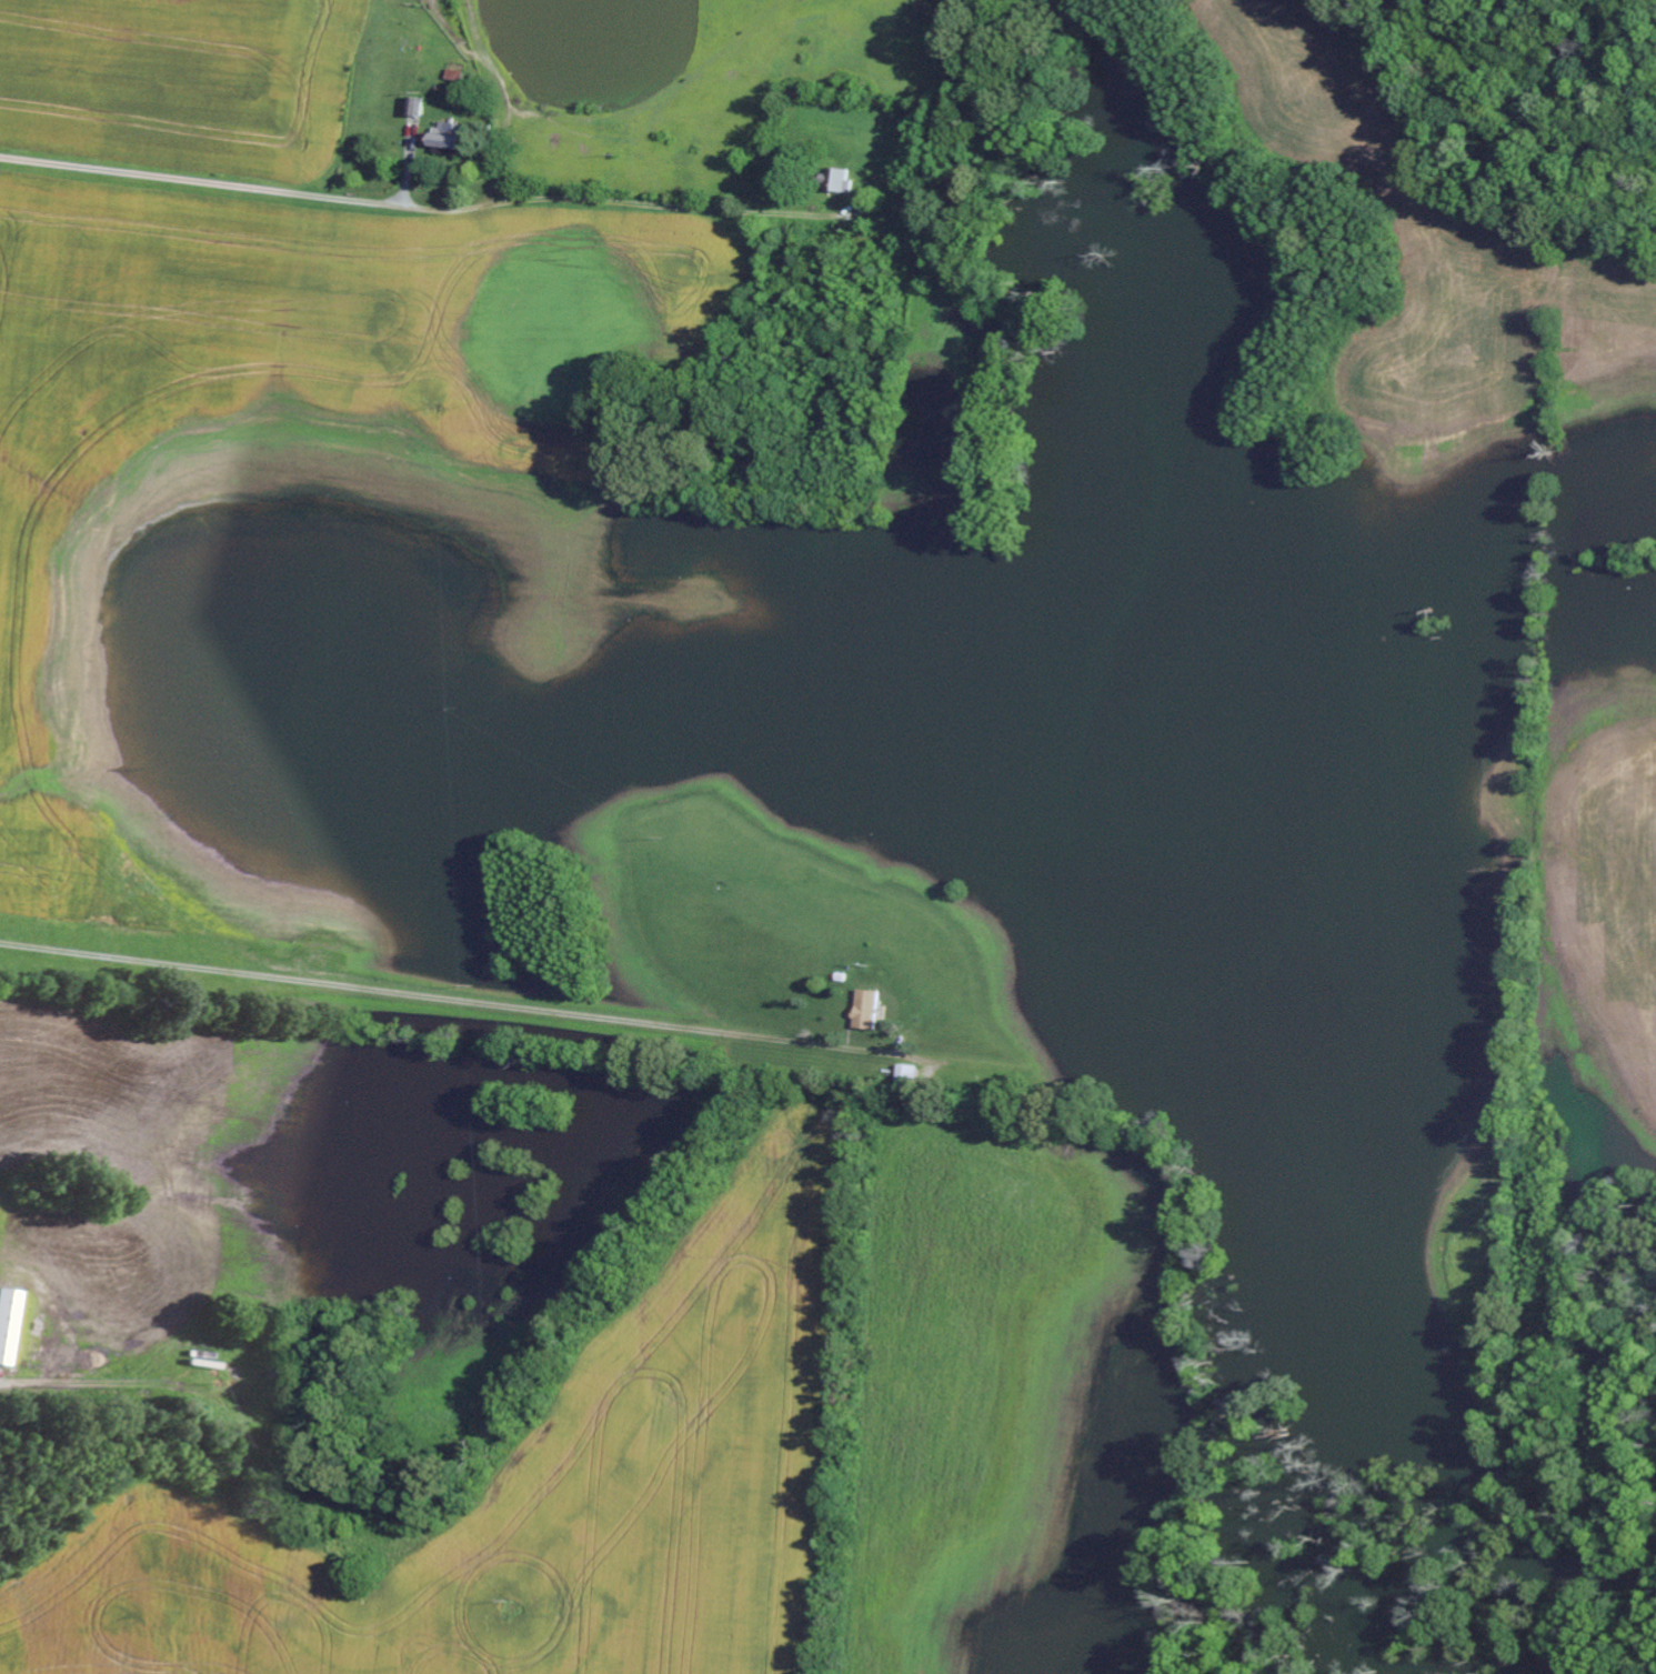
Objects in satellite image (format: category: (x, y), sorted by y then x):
park: (950, 13)
building: (418, 109)
road: (1565, 117)
building: (453, 137)
building: (840, 182)
road: (428, 212)
road: (435, 1000)
building: (870, 1011)
building: (910, 1077)
building: (3, 1317)
road: (129, 1389)

